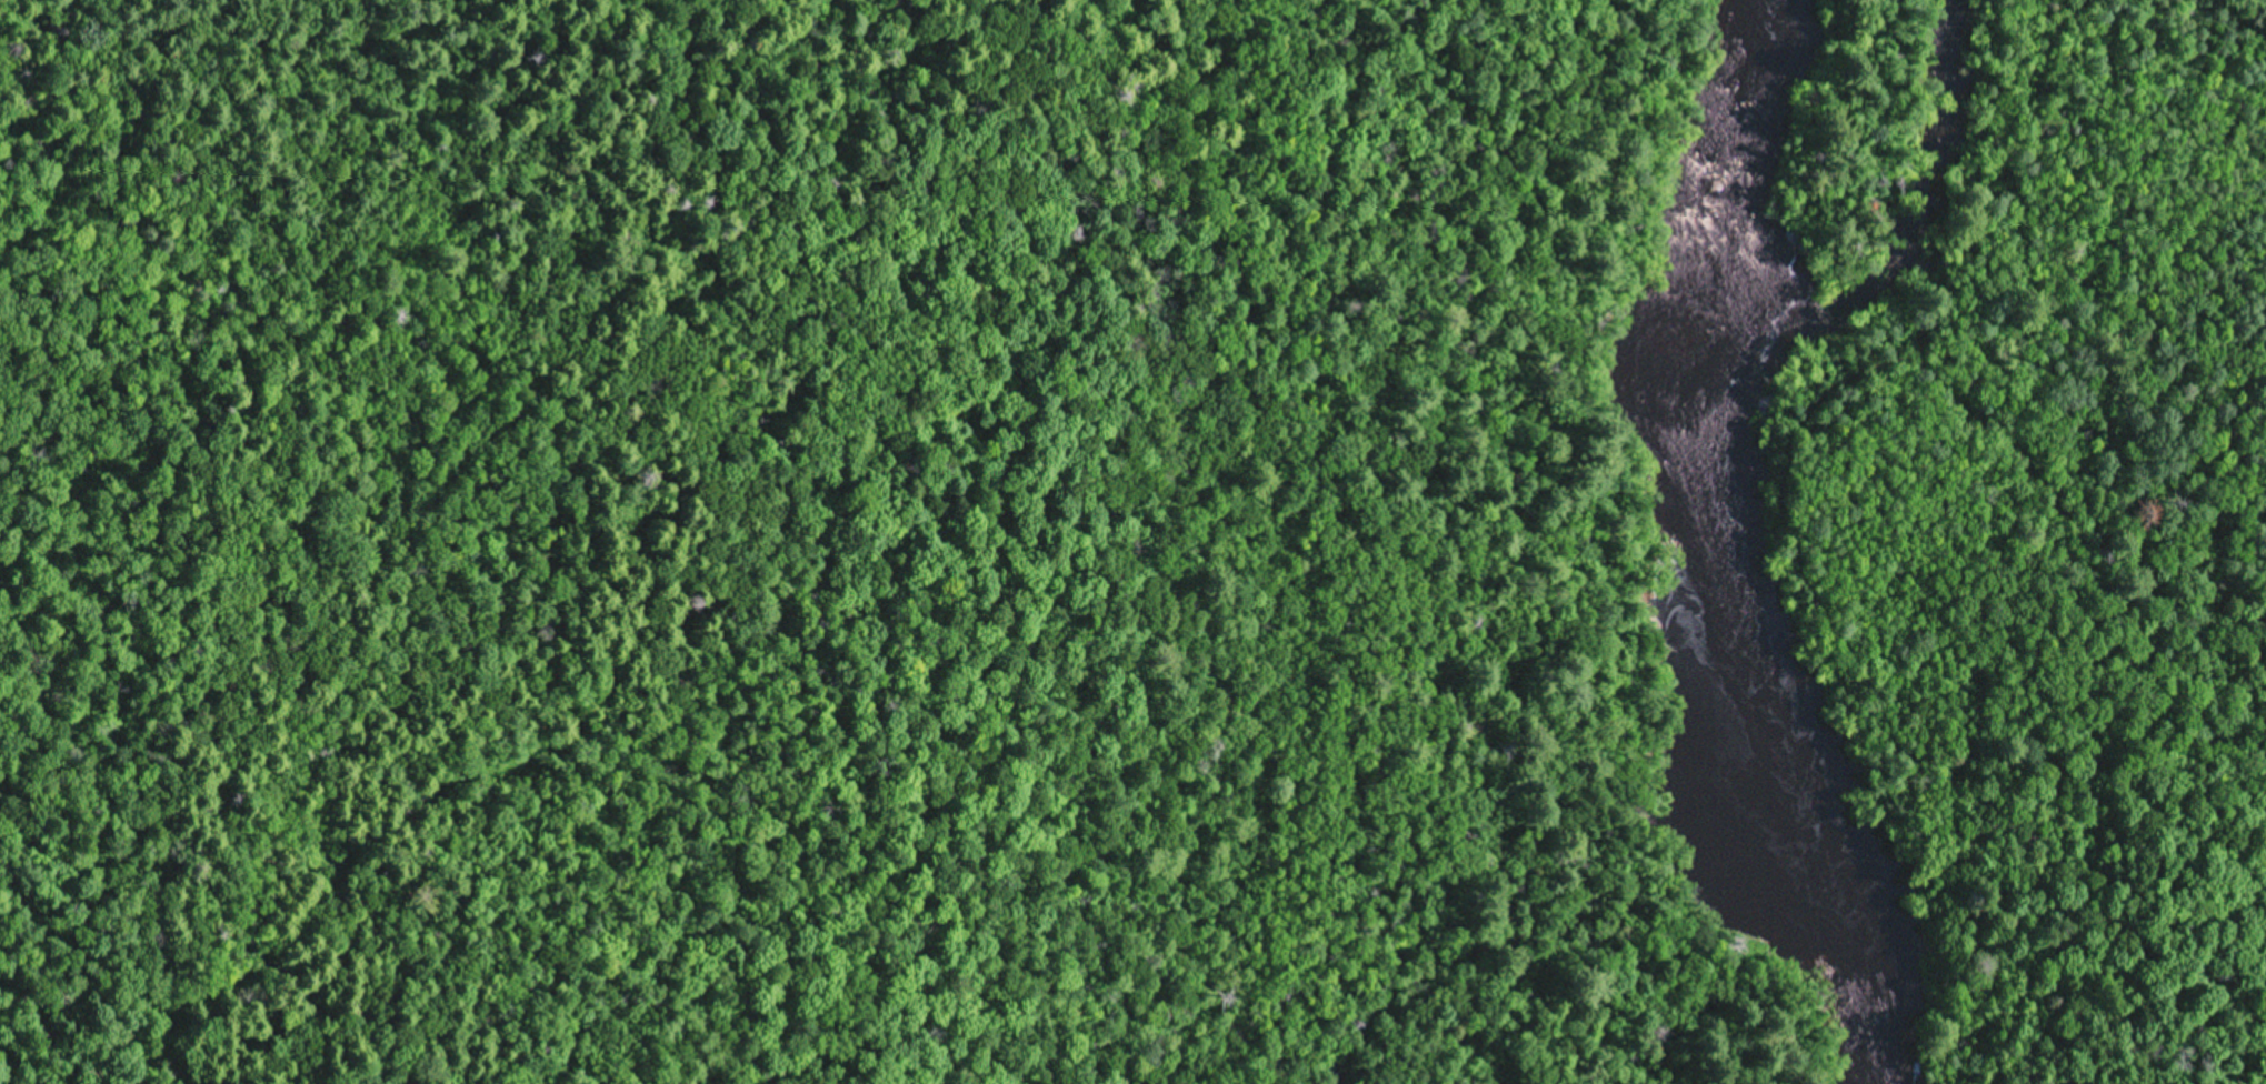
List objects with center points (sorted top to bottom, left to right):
river: (1695, 555)

